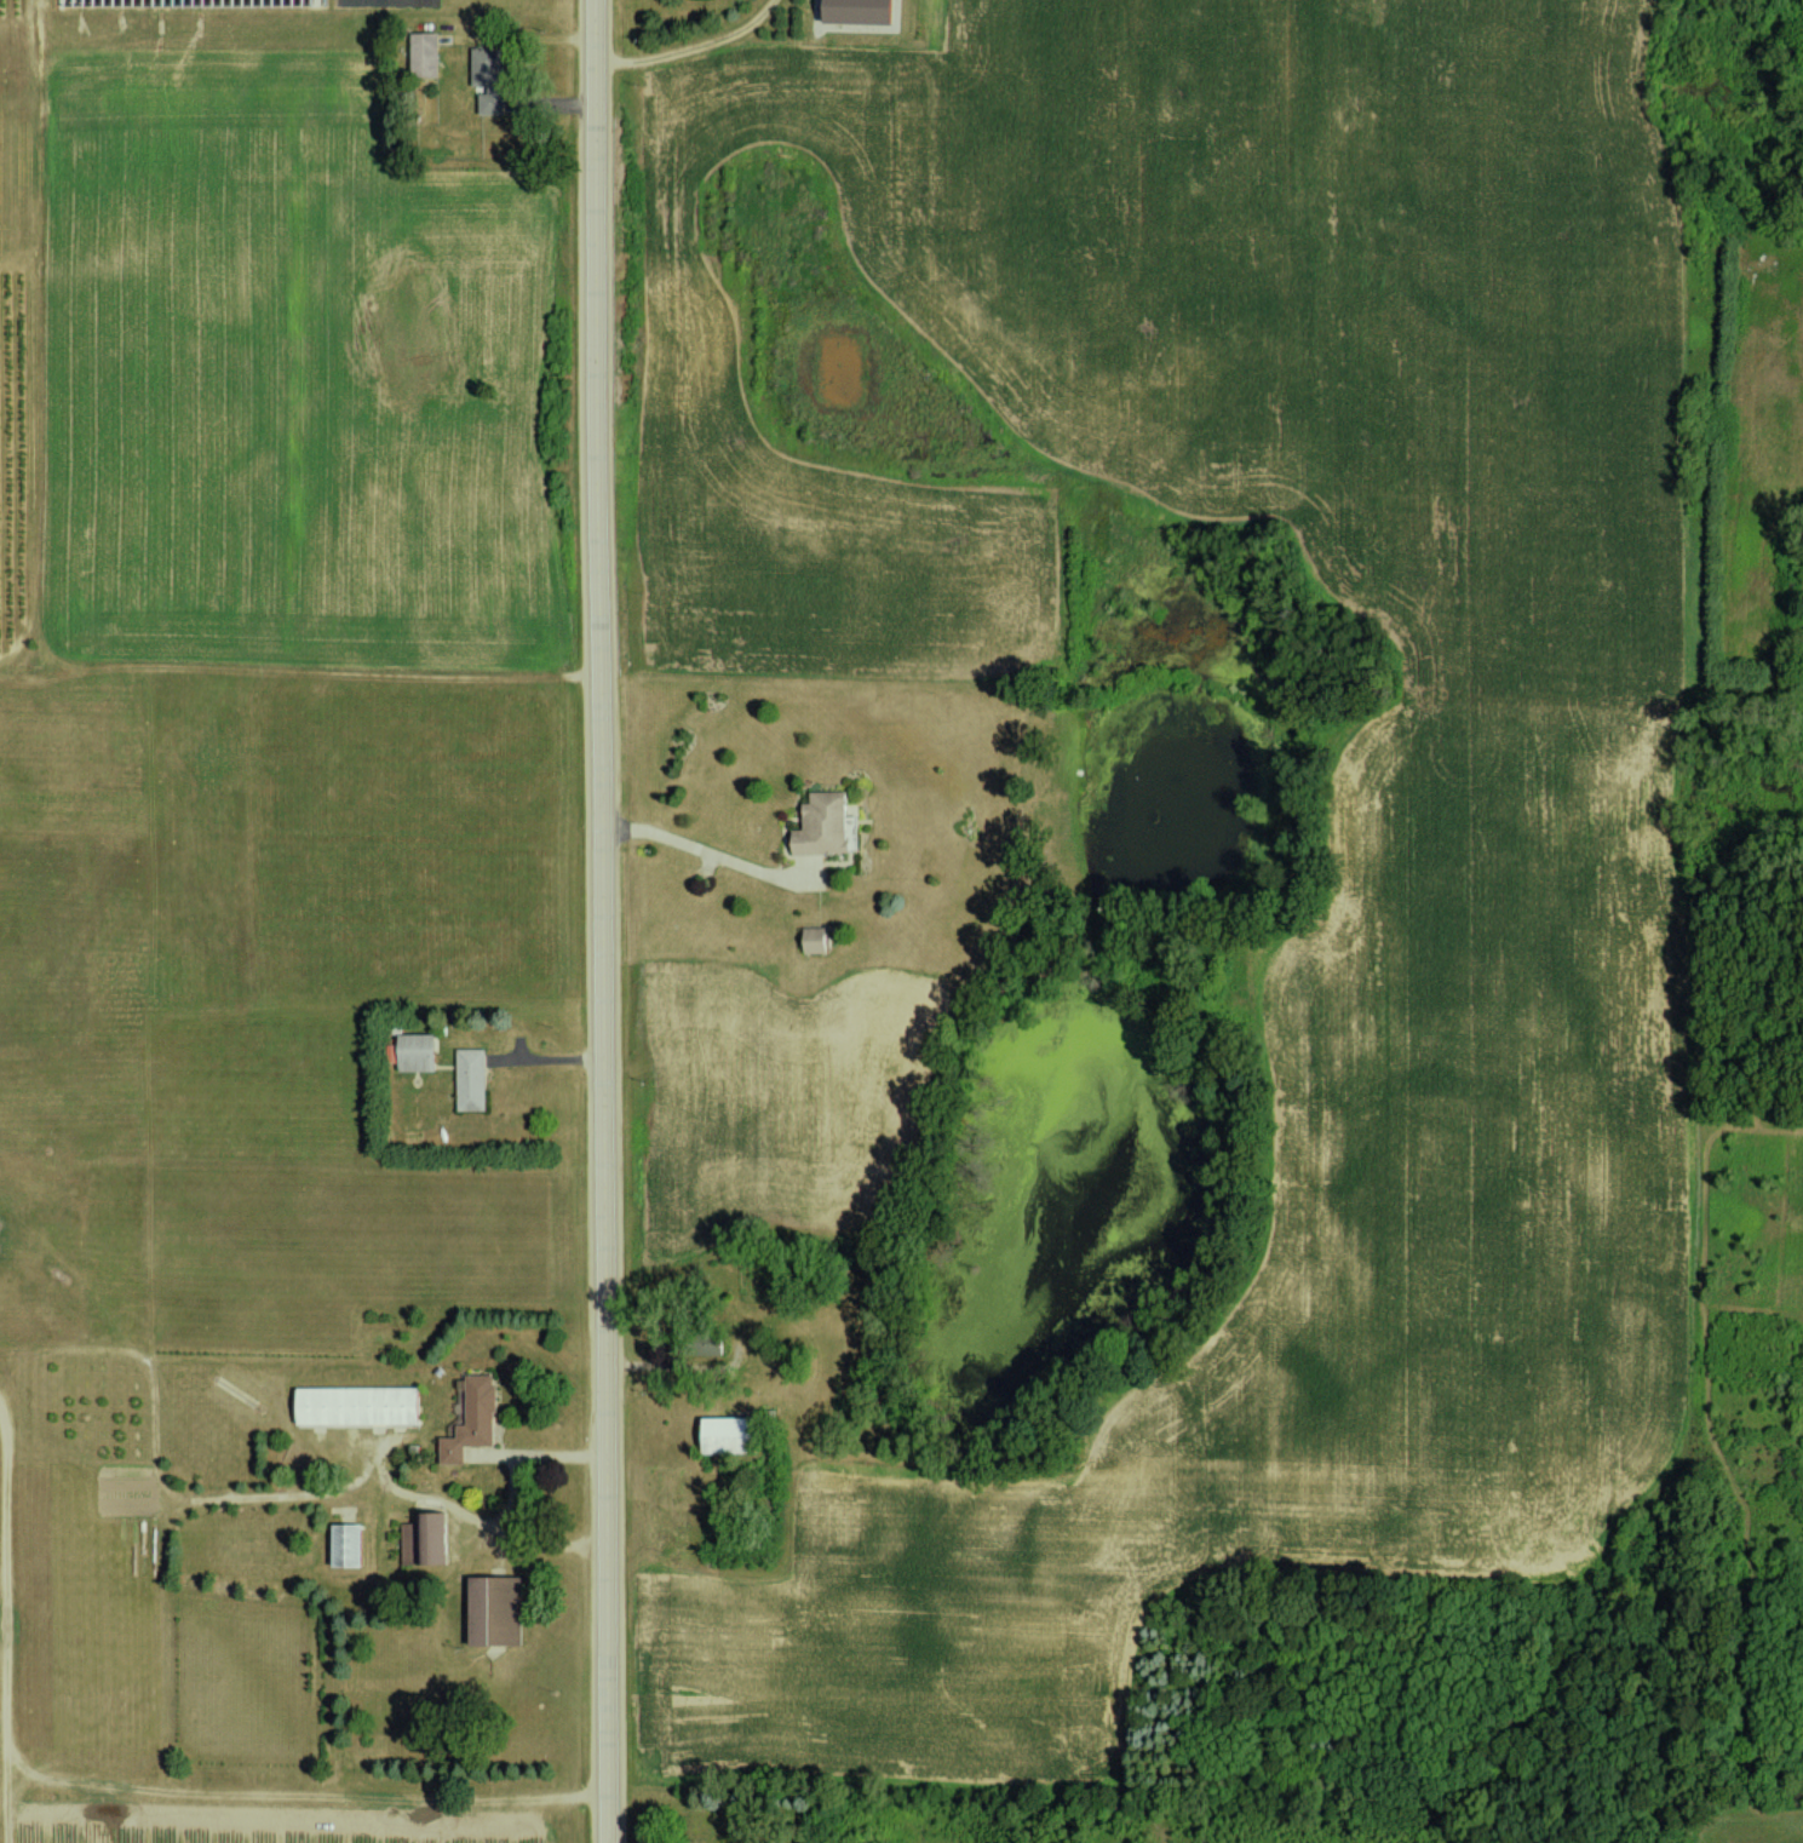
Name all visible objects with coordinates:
building: (867, 11)
road: (693, 47)
building: (429, 53)
building: (493, 79)
road: (42, 339)
building: (827, 823)
road: (706, 850)
road: (603, 920)
building: (820, 940)
building: (421, 1052)
building: (473, 1079)
building: (363, 1405)
building: (475, 1419)
building: (736, 1435)
road: (511, 1503)
building: (427, 1539)
building: (351, 1545)
building: (501, 1611)

